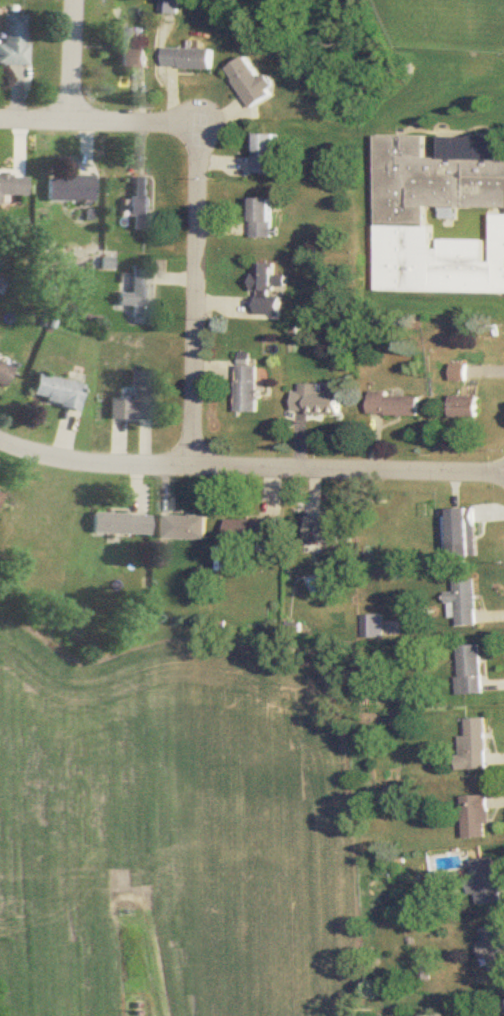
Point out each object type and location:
building: (11, 41)
building: (128, 53)
road: (71, 60)
building: (192, 60)
building: (254, 83)
road: (35, 120)
road: (118, 121)
building: (269, 156)
building: (11, 187)
building: (66, 190)
building: (429, 202)
building: (139, 205)
building: (265, 219)
building: (498, 255)
road: (479, 264)
road: (200, 284)
building: (269, 291)
building: (135, 296)
building: (2, 377)
building: (249, 391)
building: (53, 393)
building: (132, 401)
building: (317, 402)
building: (394, 405)
building: (464, 408)
road: (250, 469)
building: (116, 525)
building: (181, 527)
building: (463, 531)
building: (253, 532)
building: (327, 534)
building: (467, 603)
building: (375, 627)
building: (471, 670)
building: (477, 746)
building: (478, 817)
building: (488, 881)
building: (494, 947)

